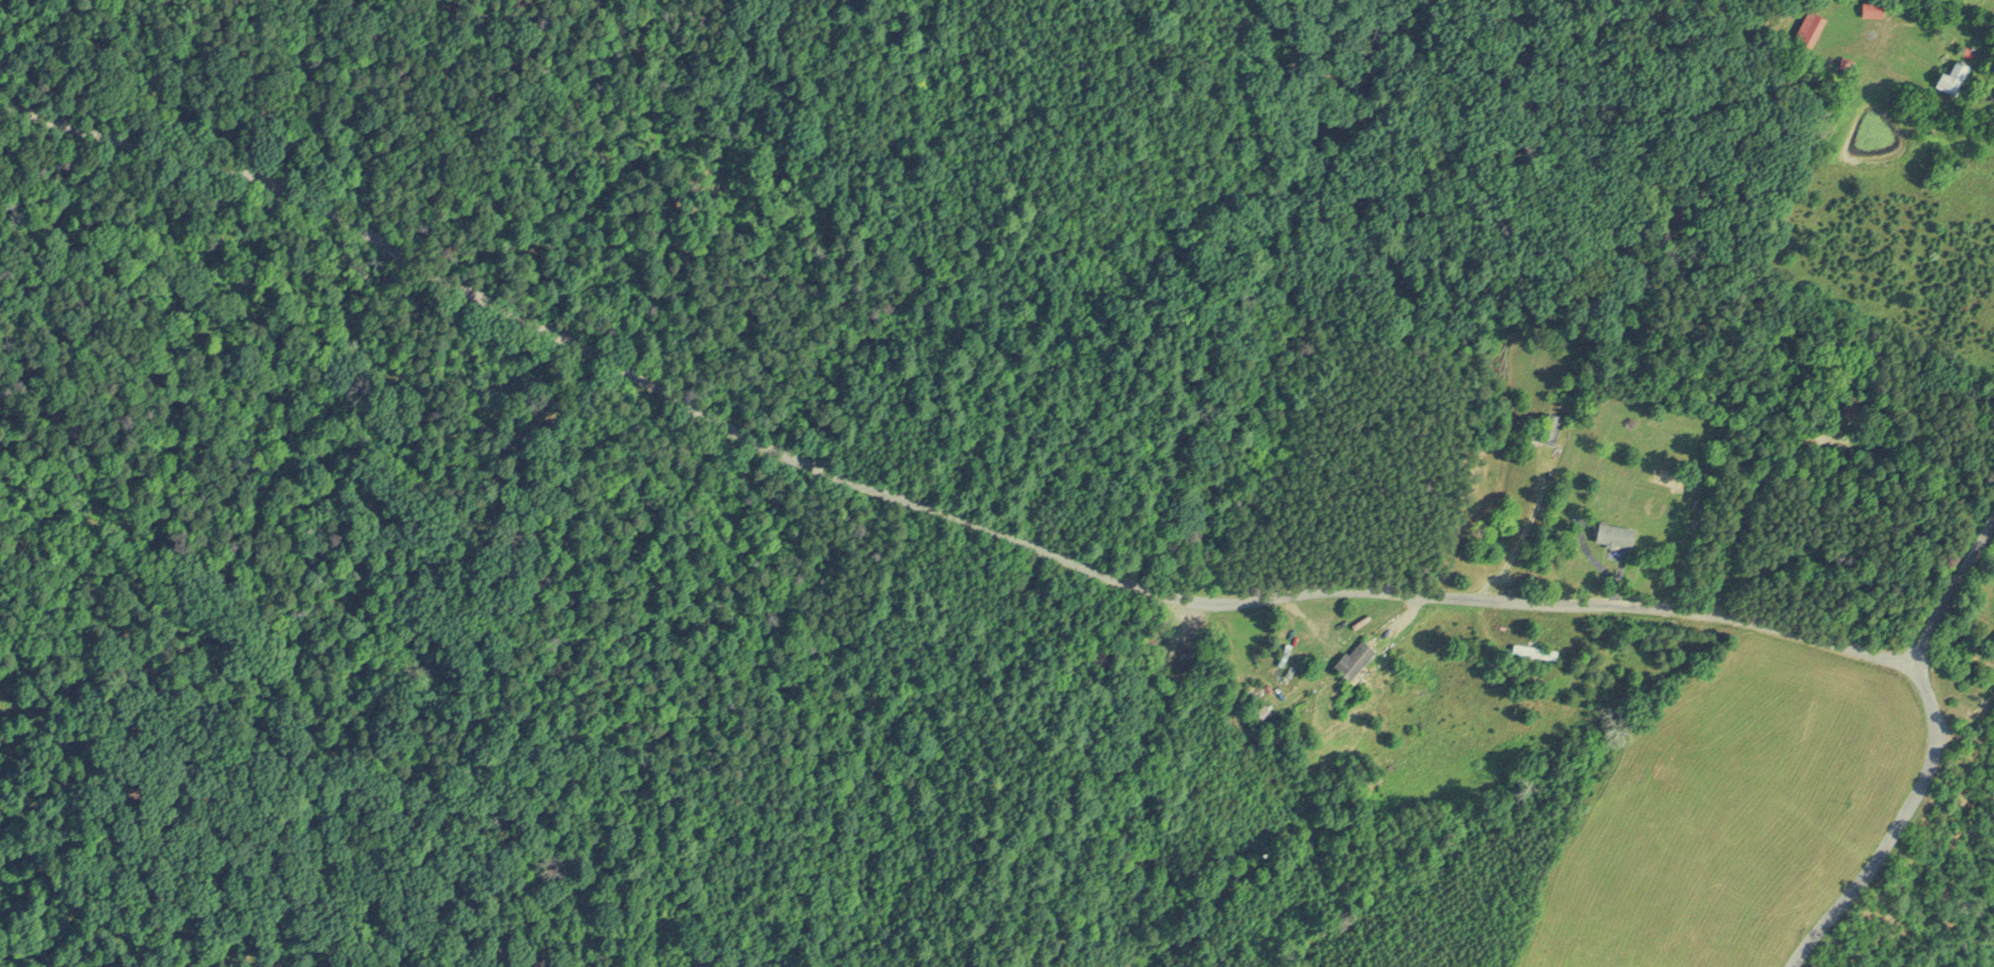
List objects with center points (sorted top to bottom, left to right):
building: (1867, 8)
building: (1806, 28)
building: (1949, 77)
building: (1544, 429)
building: (1667, 479)
road: (926, 512)
road: (1527, 522)
building: (1612, 534)
road: (1951, 593)
building: (1990, 643)
building: (1530, 649)
building: (1347, 657)
road: (1897, 829)

